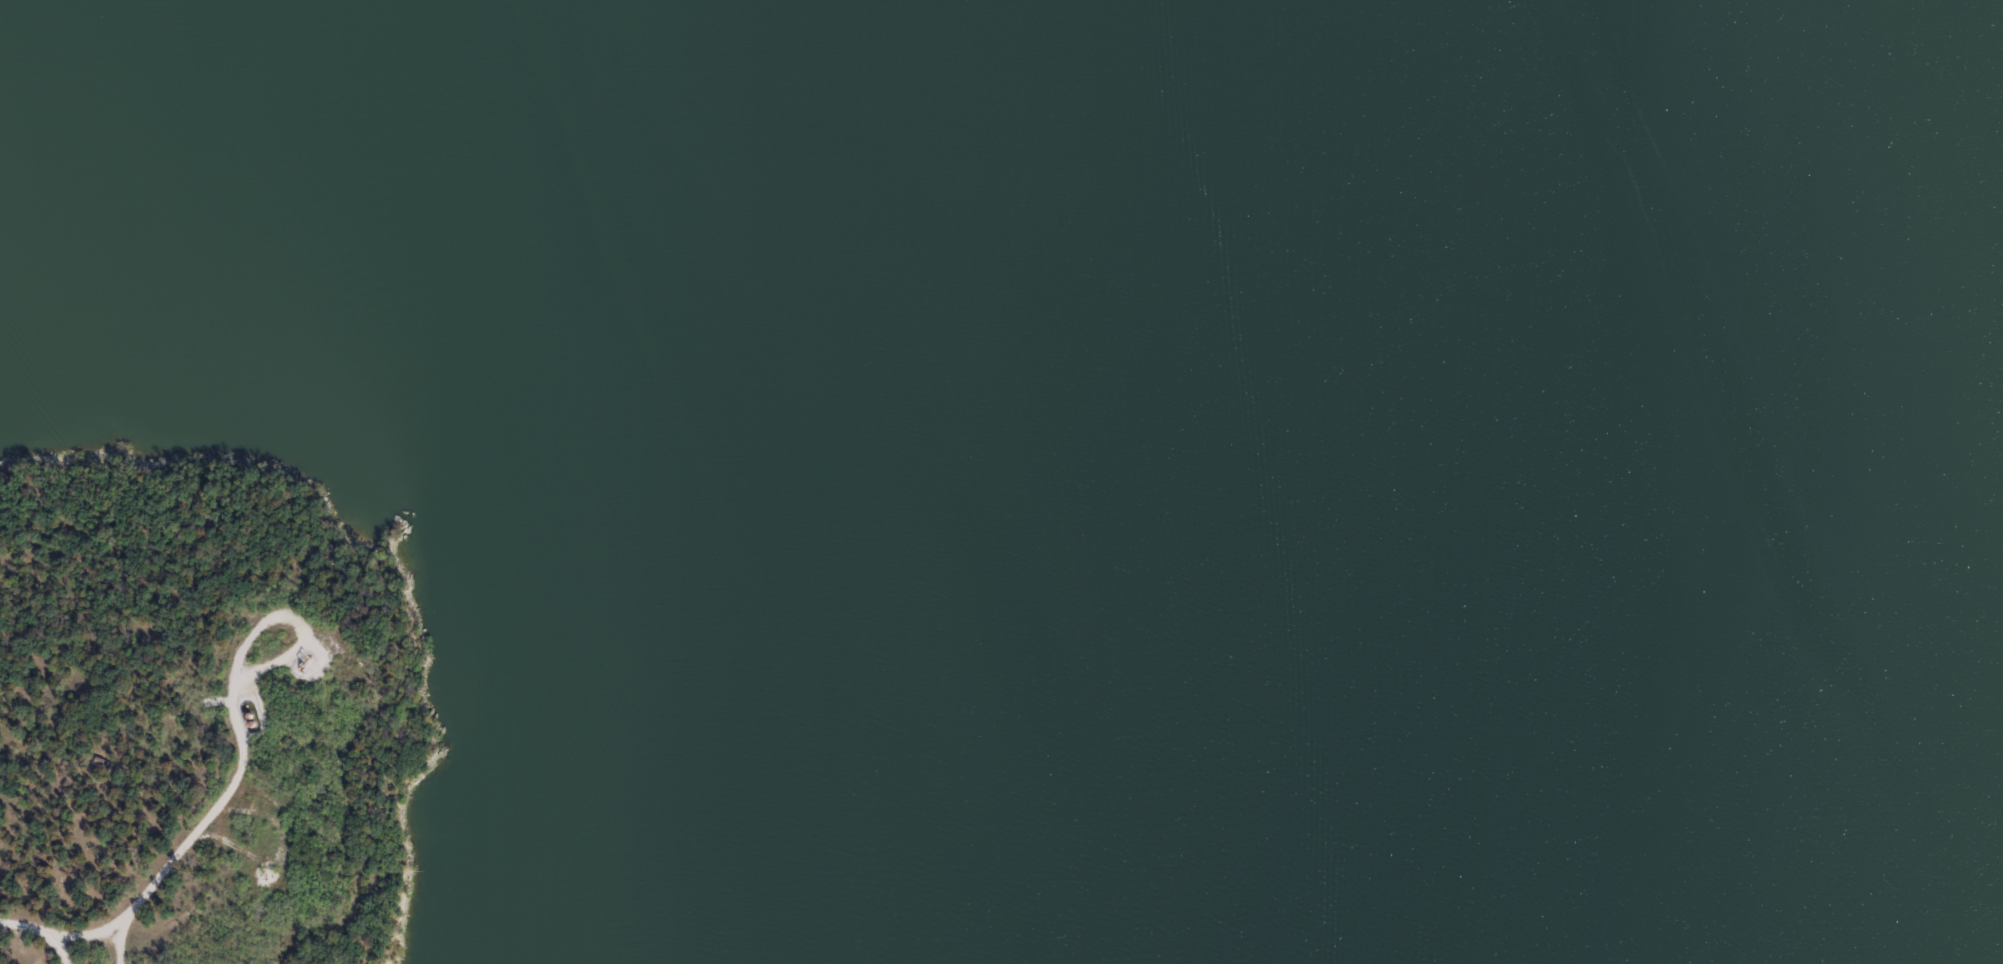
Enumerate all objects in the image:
road: (297, 622)
park: (297, 685)
road: (173, 862)
road: (121, 939)
road: (58, 947)

